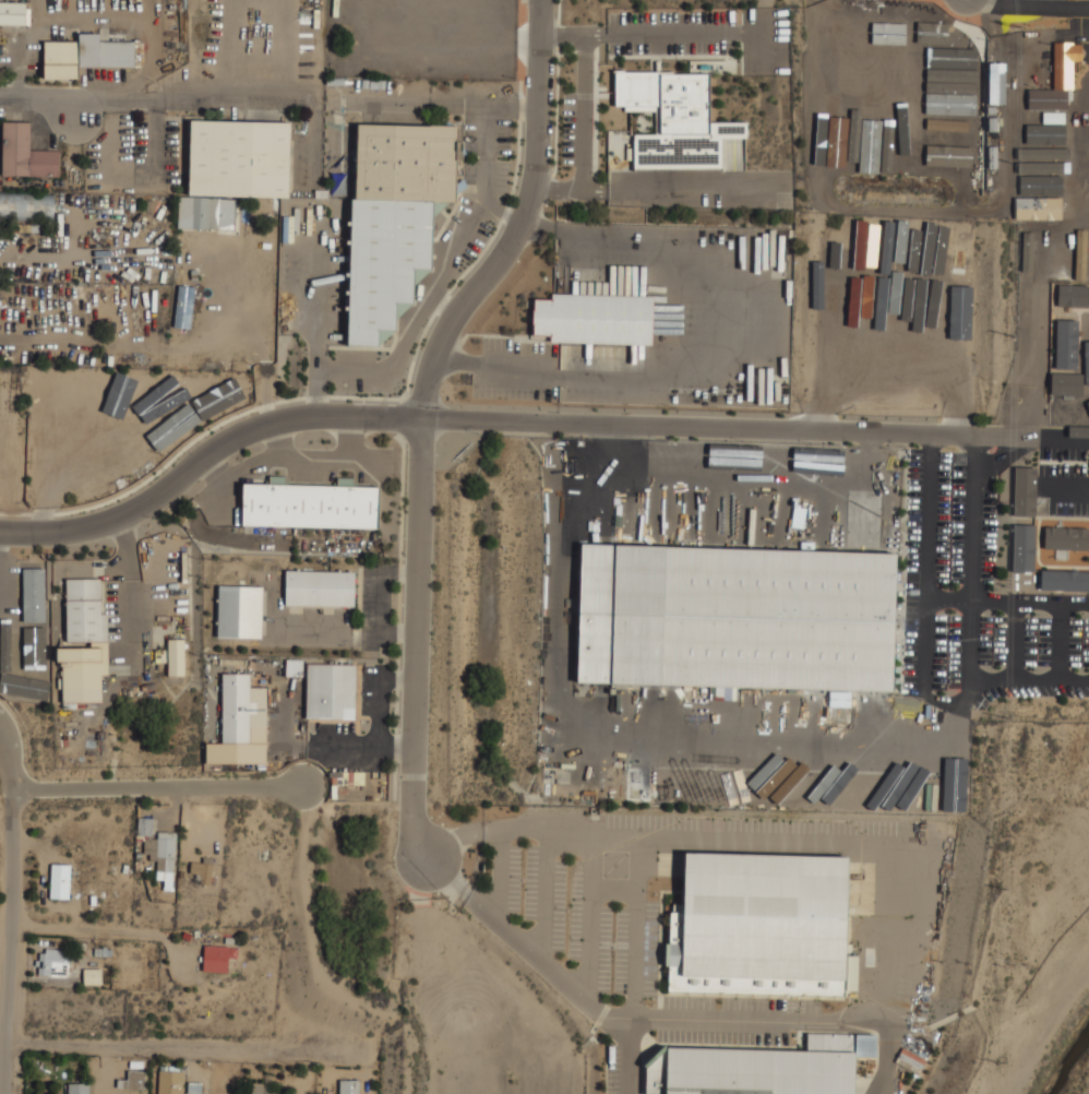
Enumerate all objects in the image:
road: (1039, 5)
building: (13, 13)
road: (753, 26)
building: (911, 26)
parking lot: (672, 32)
road: (667, 33)
road: (596, 34)
building: (930, 40)
building: (105, 51)
building: (60, 59)
building: (947, 60)
building: (1065, 62)
building: (936, 81)
building: (996, 83)
road: (229, 96)
building: (926, 97)
building: (959, 97)
road: (39, 99)
building: (960, 111)
road: (583, 118)
building: (675, 119)
building: (1057, 120)
building: (1043, 139)
building: (962, 140)
building: (854, 148)
building: (25, 153)
building: (1032, 153)
building: (240, 157)
building: (1041, 169)
parking lot: (481, 183)
building: (1048, 202)
building: (26, 206)
road: (502, 209)
building: (206, 213)
building: (394, 216)
building: (1048, 224)
road: (455, 251)
building: (1080, 260)
building: (907, 262)
building: (866, 267)
building: (839, 269)
building: (955, 278)
building: (941, 285)
building: (1072, 295)
building: (184, 302)
parking lot: (683, 311)
building: (595, 318)
building: (889, 320)
building: (836, 323)
road: (320, 325)
building: (854, 326)
building: (1026, 334)
building: (1064, 344)
road: (703, 353)
parking lot: (516, 369)
parking lot: (360, 370)
building: (1066, 384)
building: (77, 391)
building: (99, 392)
building: (154, 393)
building: (49, 396)
building: (216, 403)
road: (422, 413)
road: (528, 419)
building: (68, 435)
building: (663, 449)
building: (714, 465)
building: (811, 465)
parking lot: (1063, 480)
road: (1065, 488)
building: (1024, 496)
building: (311, 504)
building: (855, 516)
building: (870, 518)
building: (1066, 537)
building: (1021, 547)
road: (2, 573)
building: (1064, 579)
building: (320, 587)
road: (128, 588)
building: (34, 595)
parking lot: (976, 595)
road: (1003, 600)
building: (84, 610)
building: (240, 610)
building: (737, 616)
road: (1014, 640)
building: (36, 646)
building: (176, 657)
building: (7, 667)
building: (294, 667)
building: (83, 673)
road: (1052, 678)
building: (31, 687)
building: (331, 690)
building: (839, 698)
road: (381, 700)
road: (948, 702)
building: (241, 706)
road: (296, 739)
road: (361, 746)
building: (881, 758)
building: (955, 774)
building: (815, 784)
road: (156, 787)
building: (886, 794)
building: (847, 798)
building: (145, 827)
building: (163, 856)
building: (202, 871)
building: (59, 881)
road: (10, 911)
building: (761, 925)
road: (100, 931)
road: (908, 941)
building: (217, 958)
building: (53, 960)
building: (92, 976)
road: (189, 1048)
building: (910, 1060)
building: (763, 1068)
building: (133, 1080)
building: (170, 1080)
building: (349, 1086)
building: (77, 1089)
building: (260, 1089)

